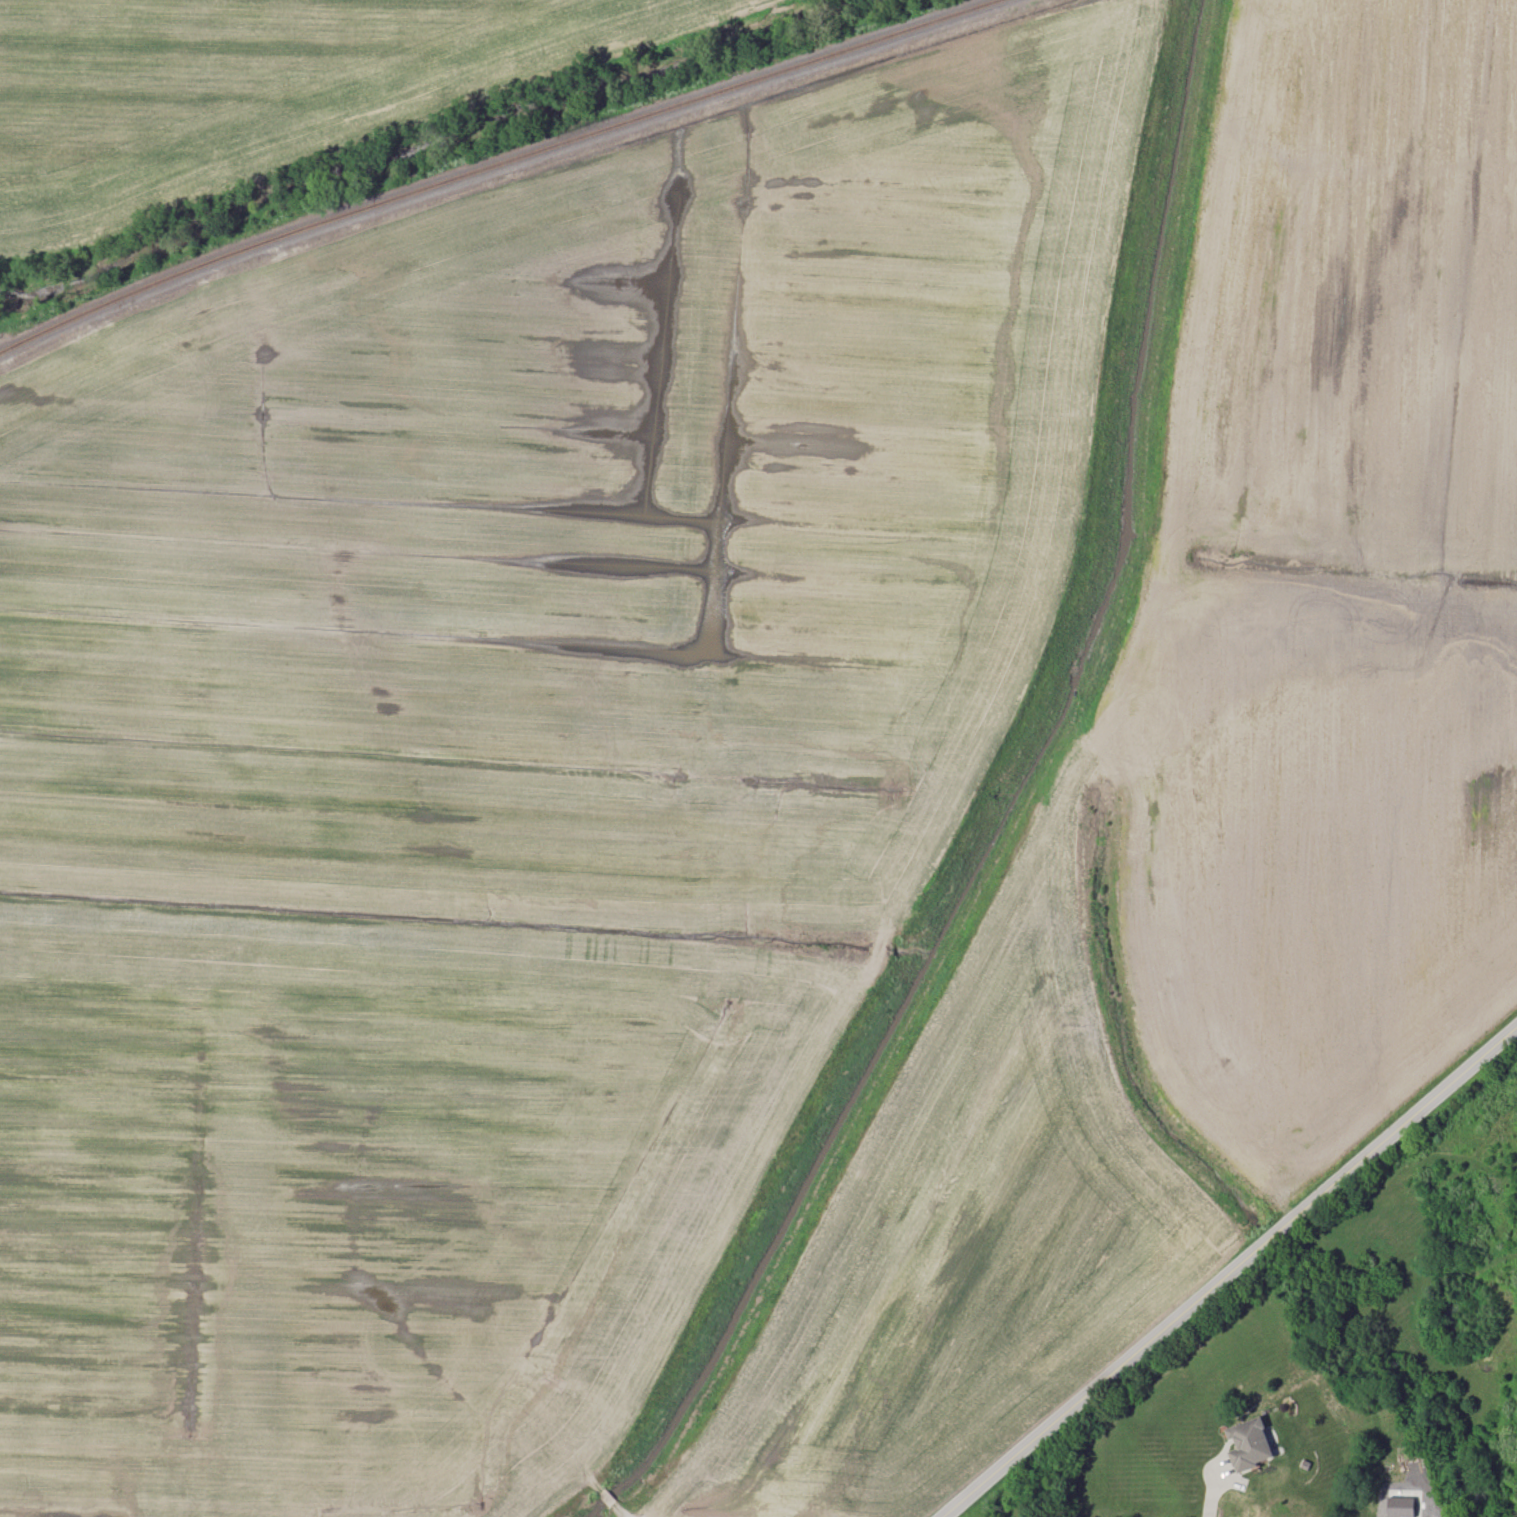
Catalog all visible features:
crop: (253, 88)
railway: (482, 161)
crop: (1334, 585)
crop: (513, 762)
crop: (967, 1241)
road: (1228, 1267)
building: (1248, 1444)
road: (1211, 1486)
building: (1401, 1507)

